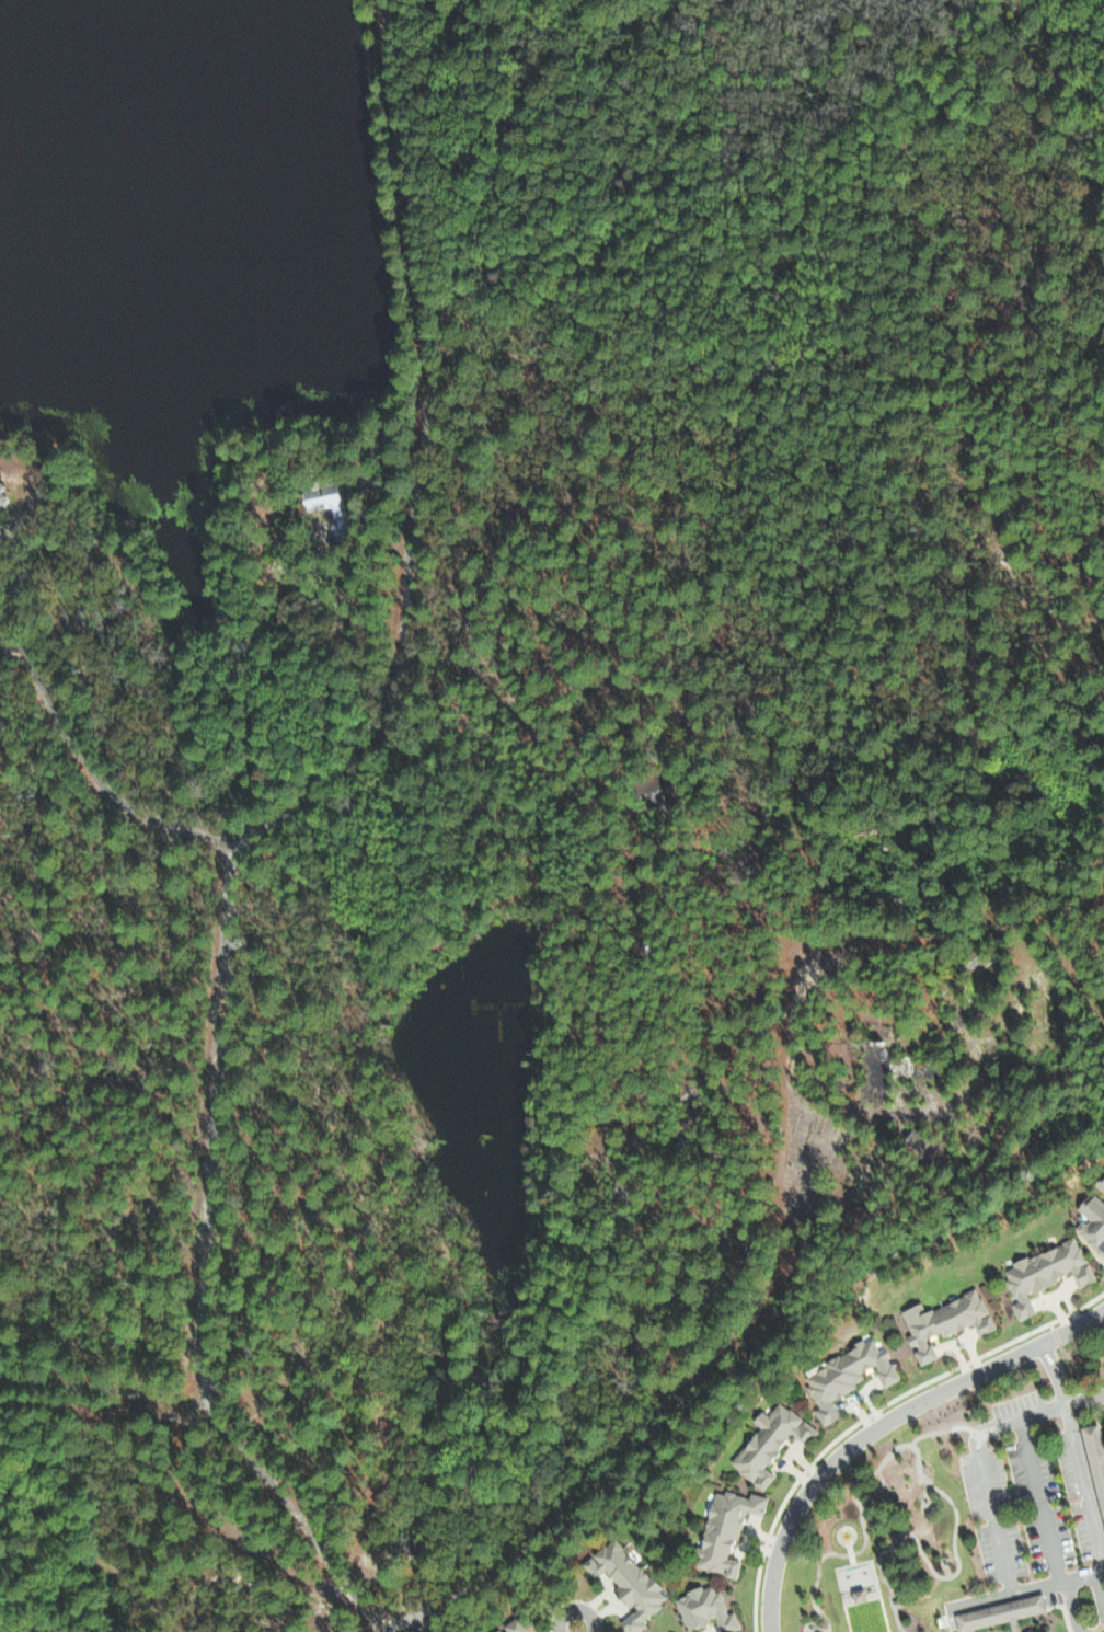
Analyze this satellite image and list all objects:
road: (421, 464)
building: (5, 494)
building: (336, 502)
road: (88, 777)
road: (209, 1126)
building: (915, 1145)
building: (1100, 1182)
building: (1091, 1221)
building: (1043, 1272)
building: (942, 1321)
road: (722, 1360)
road: (1053, 1372)
building: (843, 1376)
road: (1084, 1395)
road: (881, 1424)
building: (767, 1441)
road: (221, 1449)
building: (1094, 1466)
building: (722, 1530)
building: (624, 1582)
road: (1014, 1593)
building: (854, 1594)
road: (574, 1608)
building: (703, 1608)
building: (998, 1612)
building: (513, 1625)
building: (1043, 1631)

